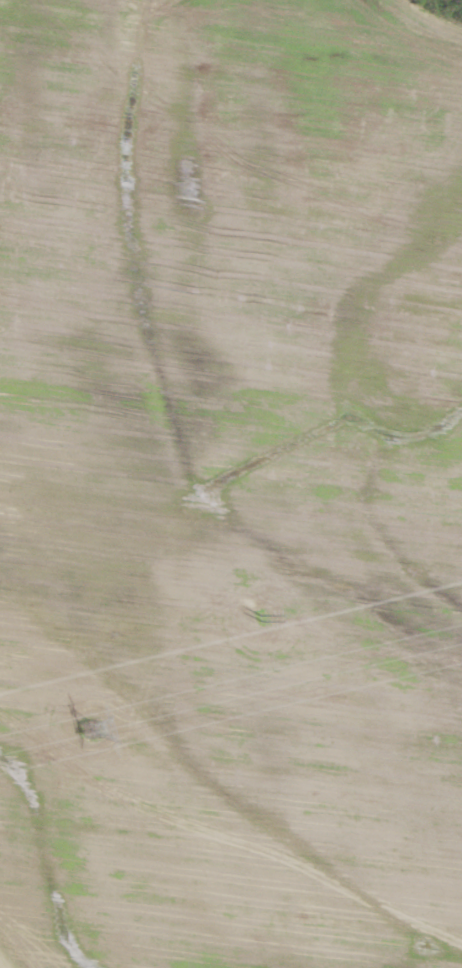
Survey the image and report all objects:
power tower: (83, 726)

